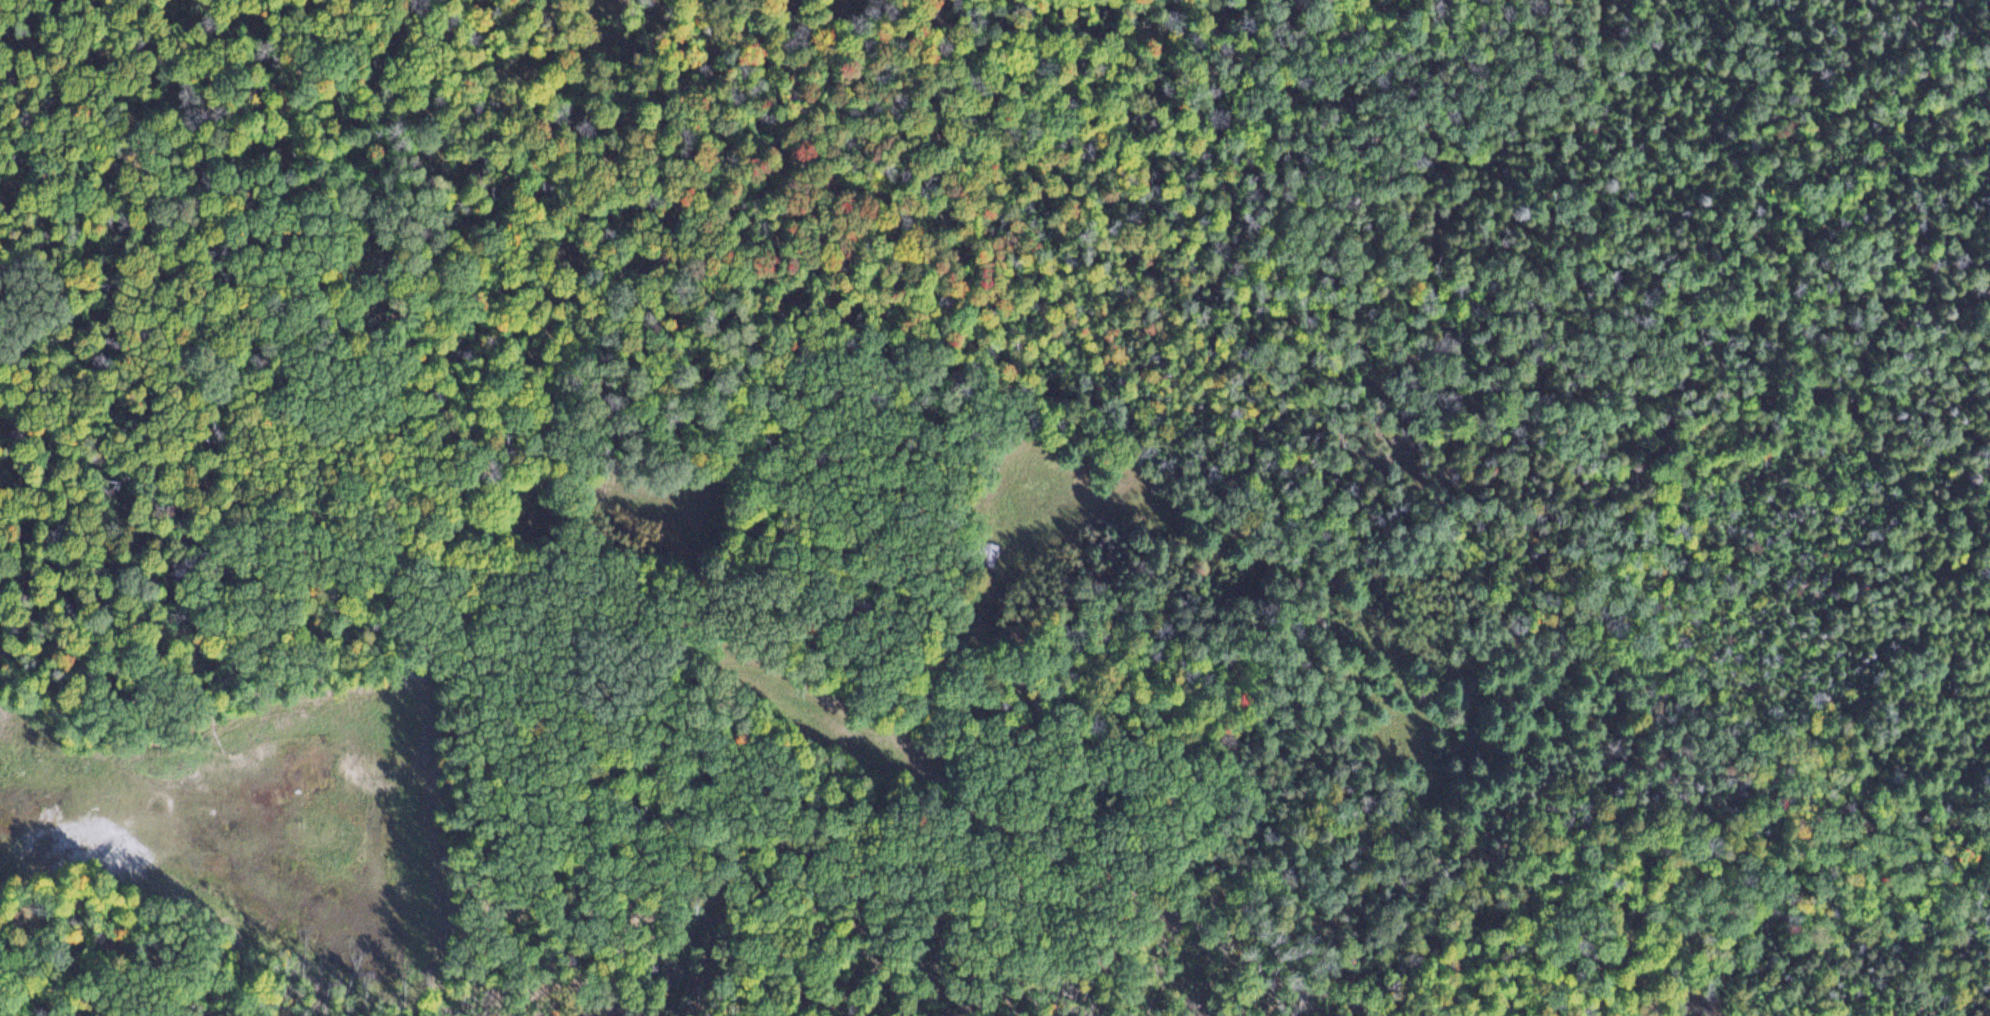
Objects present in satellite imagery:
road: (920, 202)
building: (972, 550)
road: (1377, 673)
road: (754, 688)
quarry: (254, 814)
road: (10, 866)

